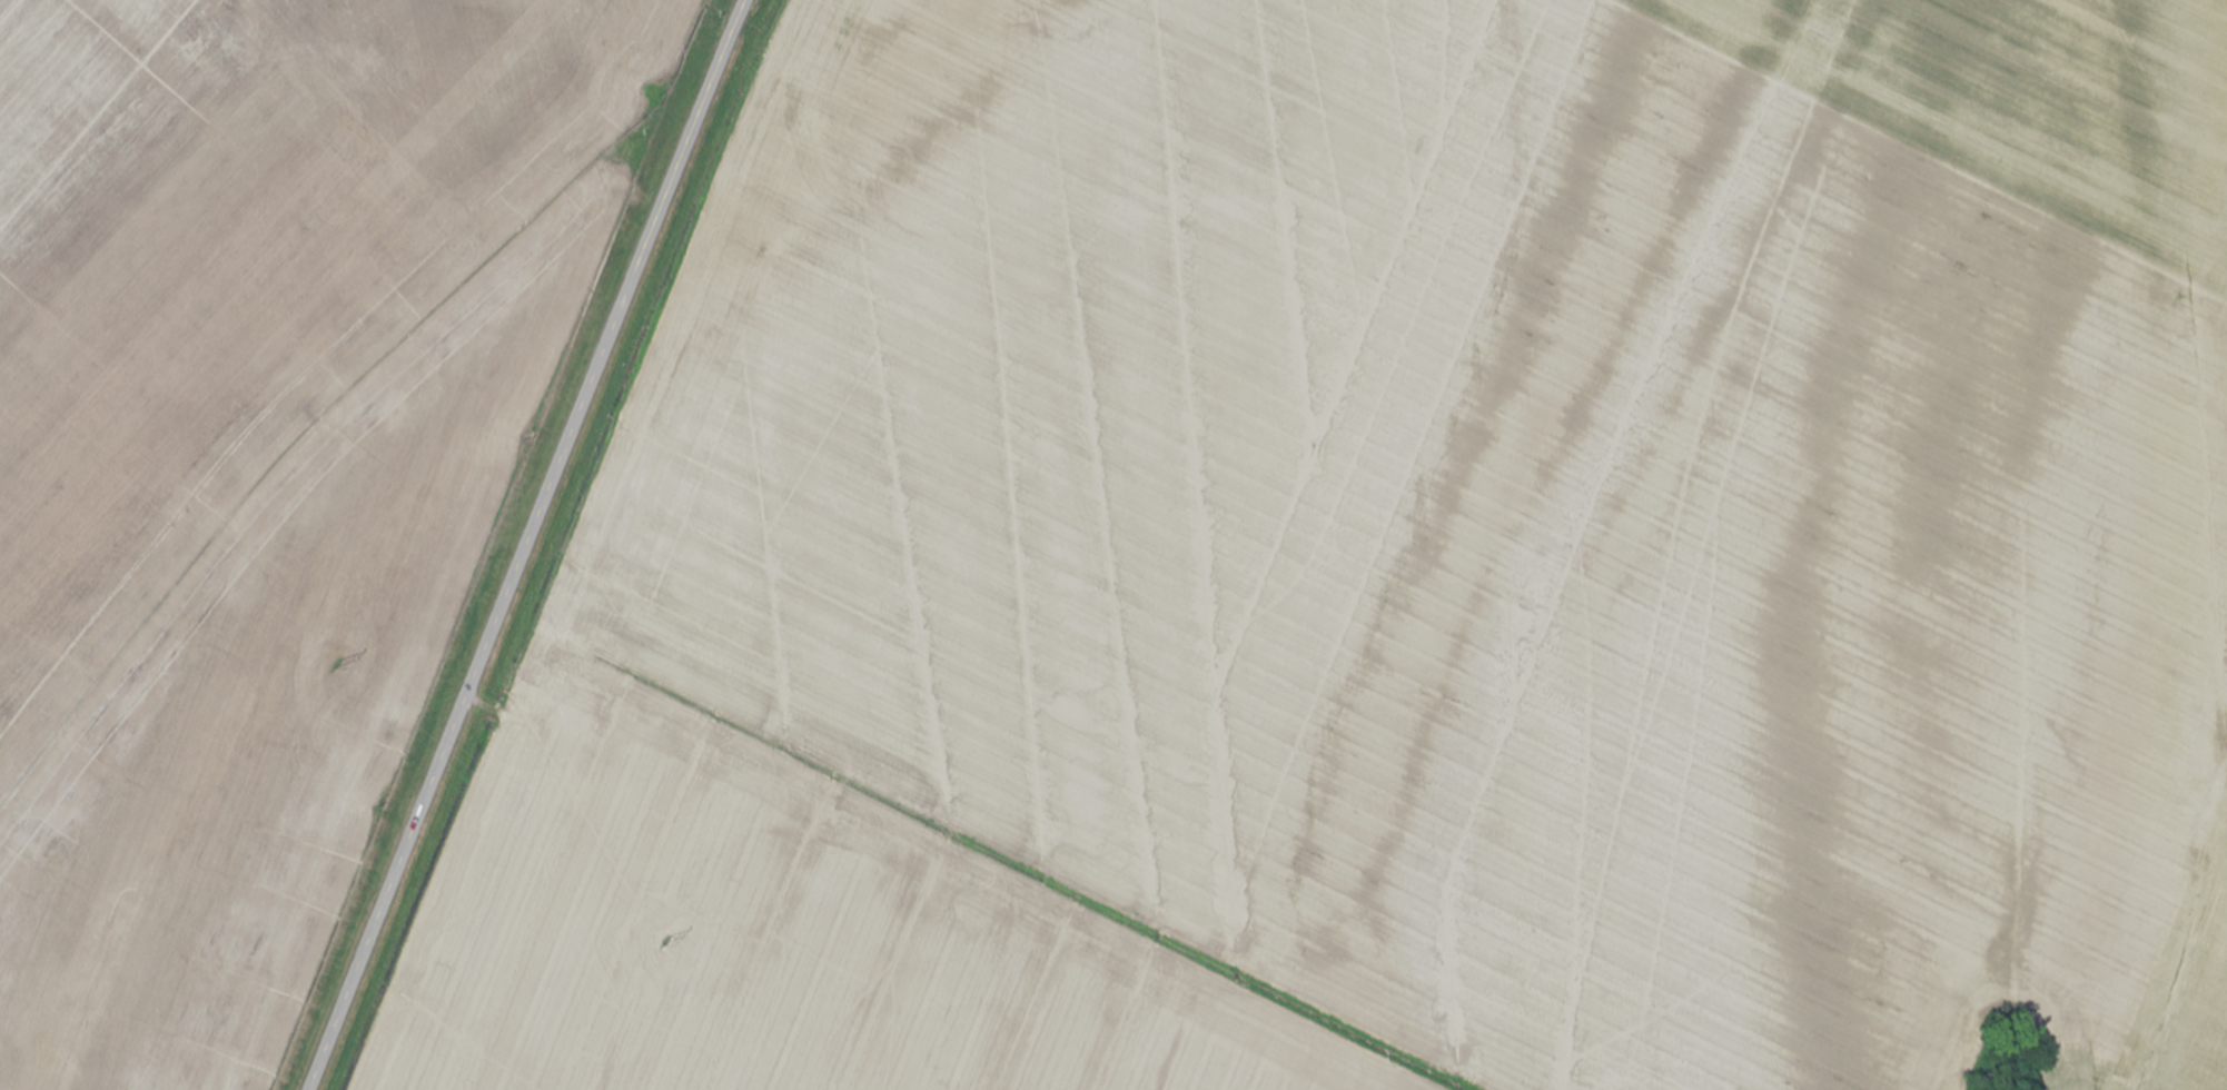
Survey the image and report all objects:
road: (527, 544)

